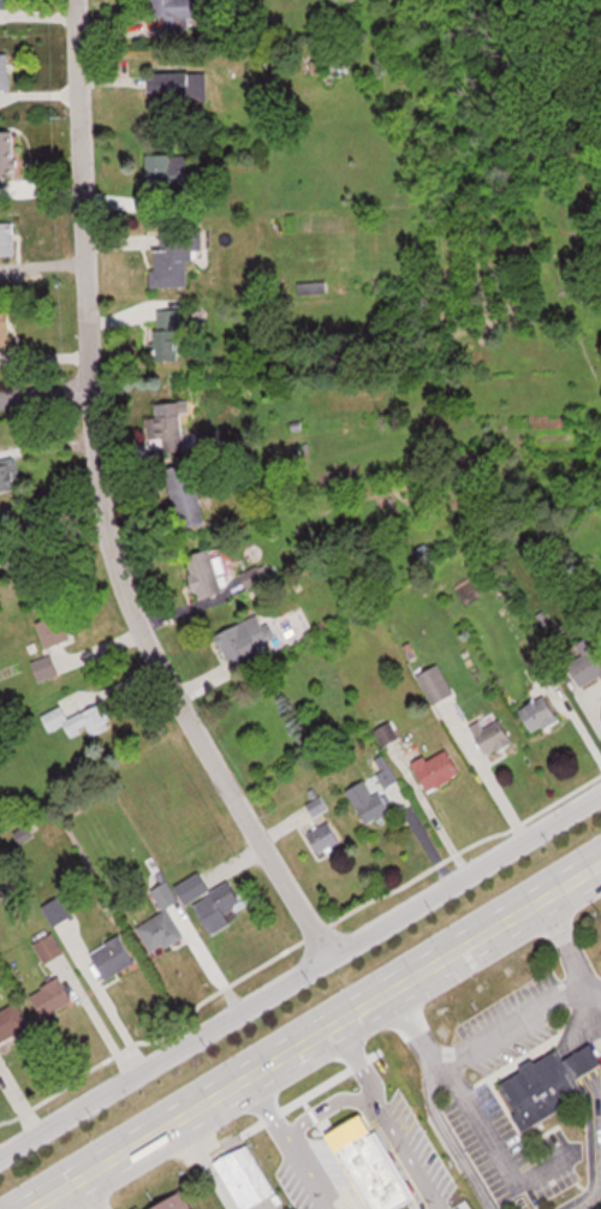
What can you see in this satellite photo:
building: (5, 4)
building: (179, 13)
building: (5, 72)
building: (174, 94)
building: (8, 162)
building: (167, 173)
building: (8, 240)
building: (177, 258)
building: (6, 328)
road: (43, 388)
building: (172, 425)
building: (11, 477)
building: (188, 496)
road: (101, 505)
building: (30, 556)
building: (206, 565)
building: (56, 631)
building: (245, 641)
building: (587, 662)
building: (47, 667)
building: (543, 672)
building: (438, 684)
building: (542, 714)
building: (79, 720)
building: (496, 738)
building: (439, 769)
building: (370, 800)
building: (327, 838)
building: (210, 898)
building: (167, 922)
building: (50, 948)
road: (563, 952)
building: (114, 957)
road: (299, 970)
building: (54, 999)
building: (12, 1023)
road: (308, 1034)
road: (466, 1047)
building: (549, 1084)
road: (381, 1115)
building: (351, 1131)
road: (442, 1134)
road: (286, 1139)
road: (487, 1142)
road: (595, 1151)
building: (246, 1179)
road: (67, 1195)
building: (177, 1203)

